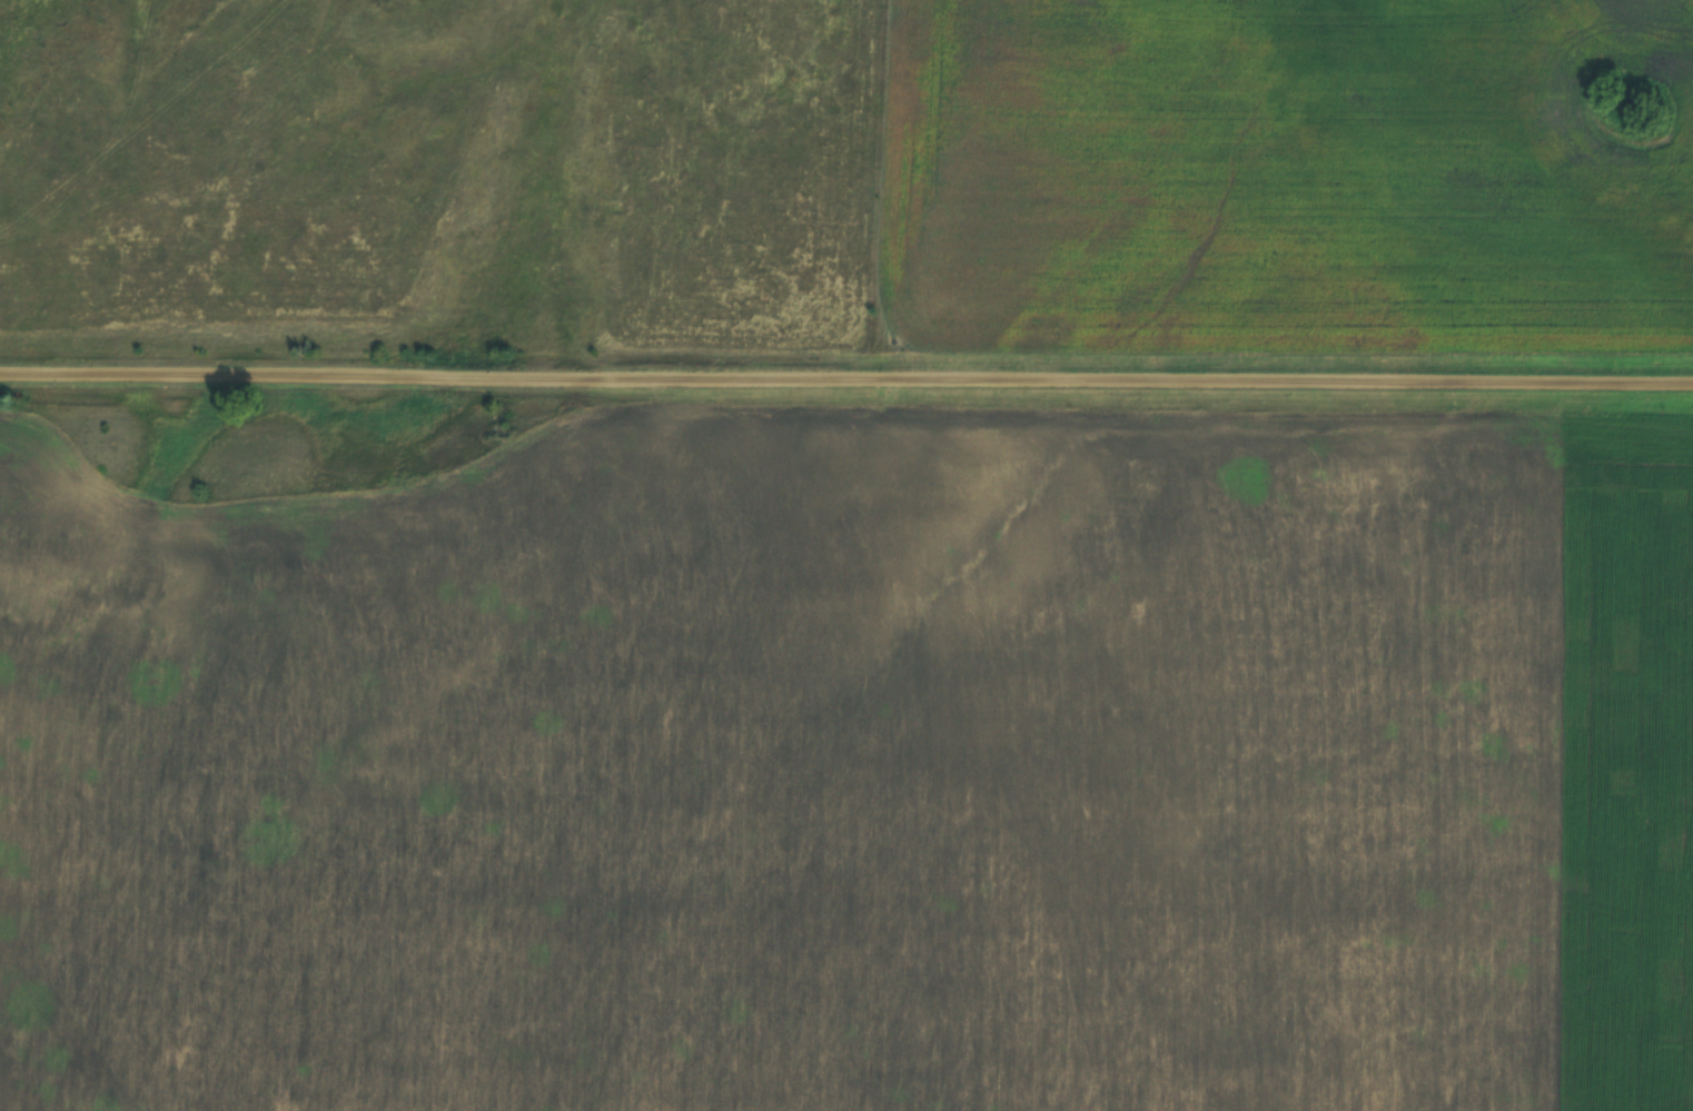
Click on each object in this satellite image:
road: (846, 380)

